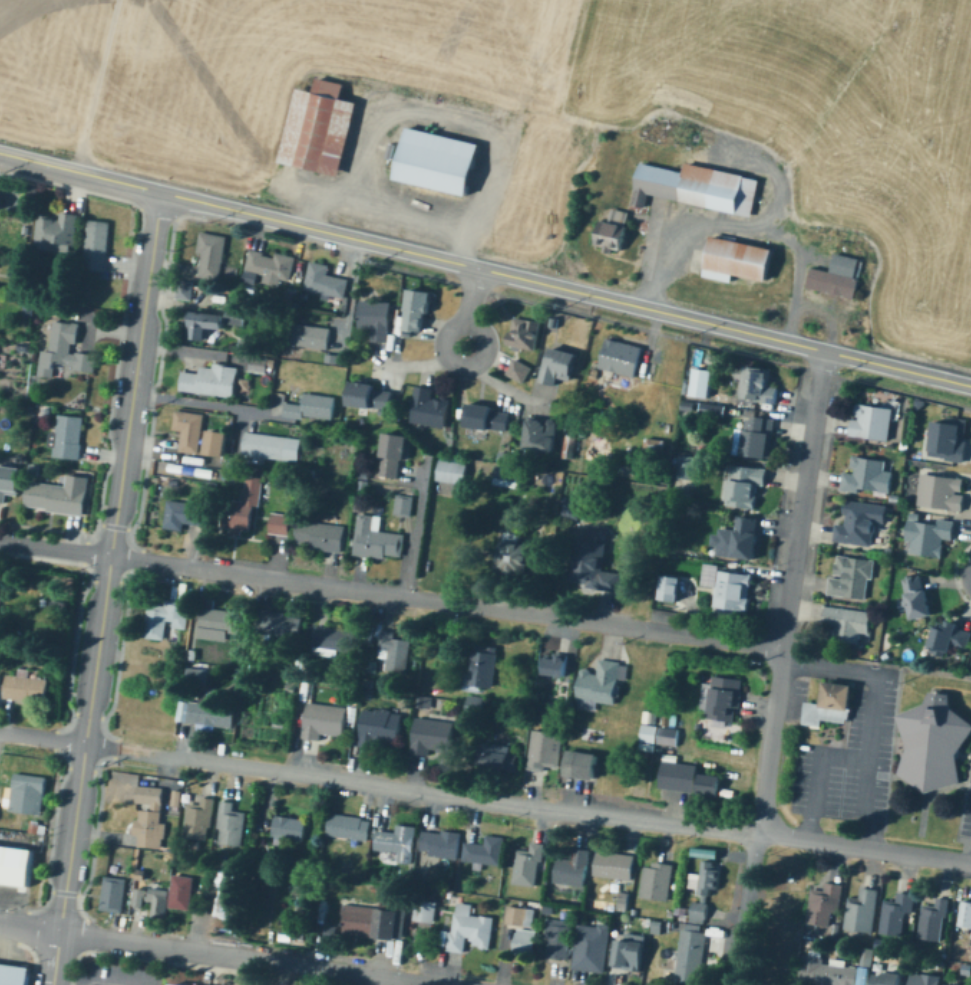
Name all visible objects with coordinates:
road: (81, 6)
road: (876, 7)
road: (149, 16)
park: (946, 31)
road: (530, 48)
road: (941, 48)
road: (909, 50)
road: (720, 59)
road: (151, 82)
road: (205, 84)
road: (178, 95)
road: (158, 98)
road: (390, 108)
building: (324, 125)
road: (674, 131)
road: (510, 135)
road: (161, 153)
building: (444, 159)
road: (77, 172)
road: (871, 175)
building: (699, 185)
building: (1, 189)
building: (33, 192)
road: (676, 216)
building: (615, 229)
building: (26, 230)
building: (55, 231)
building: (96, 245)
building: (211, 254)
building: (742, 258)
building: (271, 263)
building: (841, 274)
building: (323, 279)
road: (563, 287)
road: (353, 288)
building: (185, 290)
building: (292, 296)
building: (306, 296)
building: (418, 308)
road: (472, 308)
building: (29, 309)
building: (54, 309)
building: (237, 314)
building: (376, 320)
building: (554, 321)
building: (200, 324)
building: (526, 334)
building: (310, 336)
building: (25, 347)
building: (64, 350)
building: (618, 357)
building: (333, 359)
road: (425, 363)
building: (557, 364)
building: (260, 365)
building: (520, 371)
building: (211, 382)
road: (498, 383)
building: (699, 383)
building: (246, 384)
building: (759, 384)
building: (371, 397)
building: (875, 400)
road: (206, 403)
building: (501, 404)
building: (509, 404)
building: (917, 404)
building: (428, 406)
building: (689, 406)
building: (310, 407)
building: (708, 408)
building: (31, 410)
building: (47, 412)
building: (486, 416)
building: (519, 418)
building: (873, 421)
building: (191, 429)
building: (542, 435)
road: (240, 436)
building: (67, 437)
building: (757, 438)
building: (949, 440)
building: (220, 444)
building: (265, 445)
building: (655, 446)
building: (902, 446)
building: (571, 447)
building: (671, 449)
building: (320, 450)
building: (391, 456)
building: (505, 457)
building: (687, 467)
building: (453, 472)
building: (311, 474)
building: (231, 475)
building: (366, 475)
building: (870, 476)
building: (509, 477)
building: (88, 478)
building: (8, 482)
building: (363, 486)
building: (744, 486)
building: (941, 492)
building: (57, 498)
road: (804, 498)
building: (401, 501)
building: (360, 507)
building: (572, 507)
building: (236, 508)
building: (183, 514)
building: (913, 516)
building: (861, 522)
building: (278, 524)
road: (418, 527)
building: (318, 536)
building: (928, 536)
building: (515, 537)
building: (376, 538)
building: (738, 539)
road: (56, 549)
building: (887, 551)
building: (528, 561)
building: (595, 565)
building: (854, 579)
road: (107, 588)
building: (671, 588)
building: (733, 591)
building: (692, 596)
building: (916, 597)
road: (447, 602)
building: (59, 606)
building: (165, 617)
building: (222, 620)
building: (277, 624)
building: (846, 624)
building: (950, 637)
building: (335, 642)
building: (395, 652)
building: (194, 655)
building: (884, 656)
building: (554, 664)
building: (301, 665)
building: (48, 666)
building: (484, 667)
building: (200, 677)
building: (26, 686)
building: (293, 686)
building: (600, 686)
building: (370, 695)
building: (723, 698)
parking lot: (795, 699)
road: (788, 700)
building: (424, 701)
building: (476, 706)
building: (829, 706)
building: (209, 712)
road: (874, 715)
building: (649, 717)
building: (324, 721)
building: (674, 721)
building: (380, 728)
building: (650, 733)
building: (670, 734)
building: (431, 736)
road: (43, 737)
building: (933, 743)
road: (103, 745)
road: (133, 749)
building: (546, 749)
building: (501, 757)
building: (686, 758)
parking lot: (852, 759)
building: (582, 765)
road: (819, 777)
building: (686, 779)
building: (709, 784)
building: (661, 792)
building: (29, 793)
road: (558, 809)
parking lot: (967, 815)
road: (763, 816)
building: (149, 818)
building: (199, 818)
building: (232, 824)
building: (34, 827)
building: (349, 827)
building: (289, 828)
building: (397, 840)
building: (442, 844)
building: (486, 851)
building: (708, 852)
building: (15, 865)
building: (614, 865)
building: (528, 867)
building: (574, 870)
building: (142, 874)
building: (272, 875)
building: (707, 878)
building: (655, 881)
building: (676, 885)
building: (113, 893)
building: (183, 893)
building: (152, 900)
building: (230, 902)
building: (623, 902)
building: (824, 904)
building: (425, 911)
building: (551, 911)
building: (636, 911)
building: (698, 911)
building: (899, 911)
building: (863, 912)
building: (965, 914)
building: (522, 915)
building: (934, 921)
building: (374, 922)
building: (648, 922)
building: (619, 924)
building: (674, 925)
building: (659, 926)
road: (31, 927)
building: (469, 929)
building: (332, 930)
building: (301, 934)
building: (527, 938)
building: (560, 940)
road: (161, 945)
building: (592, 949)
building: (814, 953)
building: (867, 954)
building: (629, 955)
building: (688, 958)
building: (965, 970)
road: (354, 972)
road: (285, 974)
building: (13, 975)
parking lot: (123, 975)
building: (833, 975)
building: (863, 977)
building: (924, 978)
building: (887, 979)
road: (78, 981)
road: (93, 984)
building: (181, 984)
building: (952, 984)

